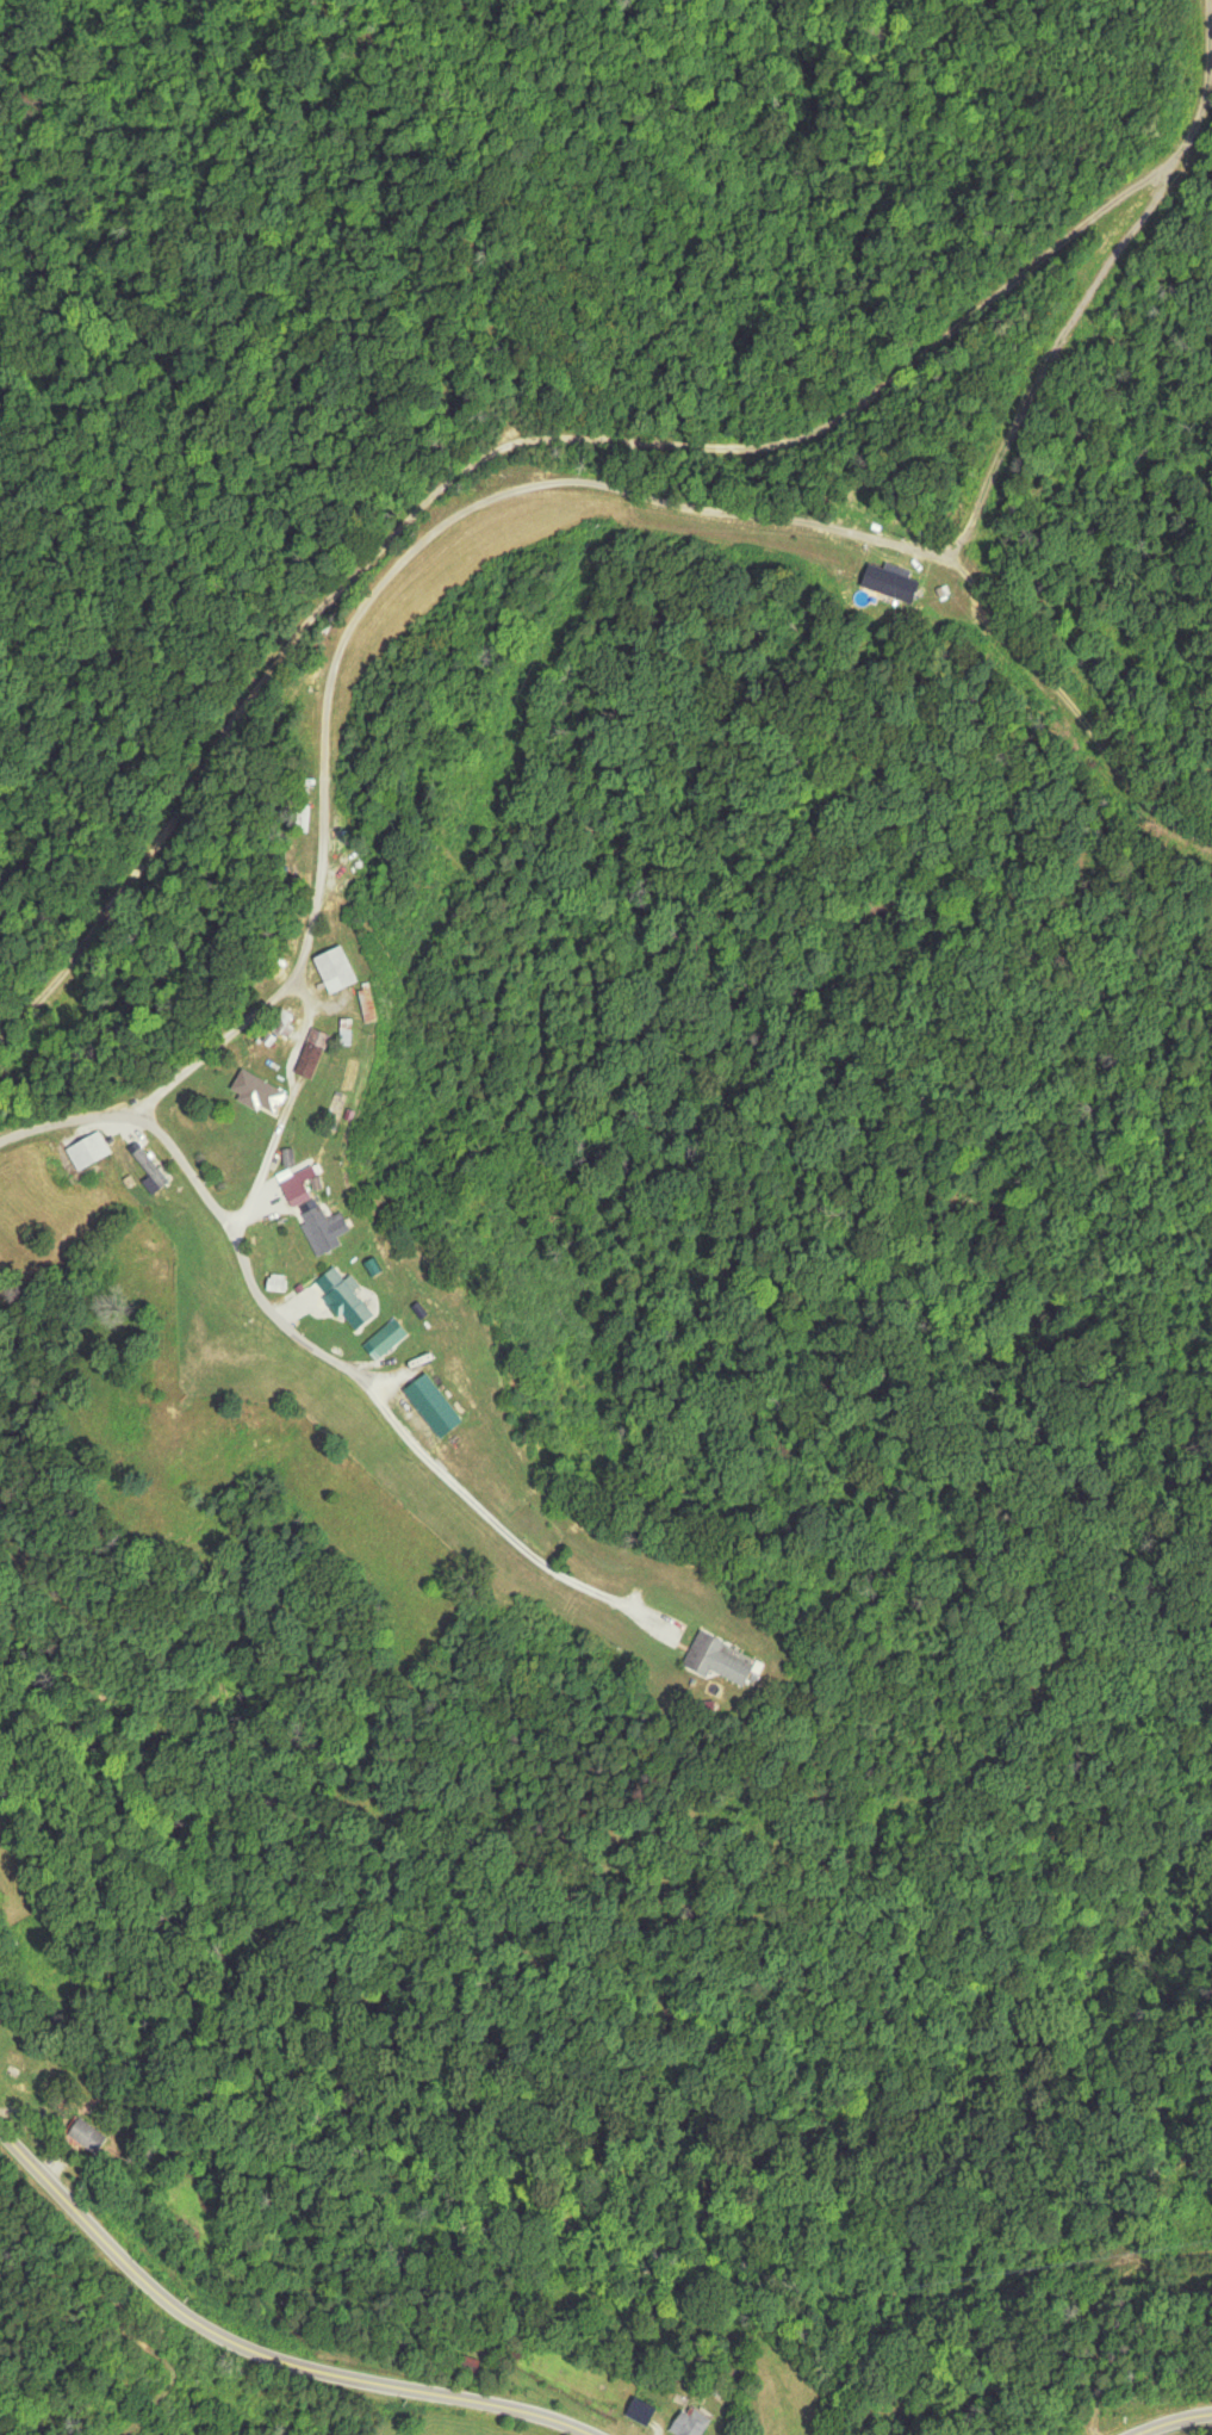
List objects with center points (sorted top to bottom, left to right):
road: (530, 441)
building: (485, 482)
building: (331, 968)
building: (365, 1005)
building: (311, 1053)
building: (255, 1091)
building: (95, 1152)
building: (155, 1164)
building: (297, 1188)
building: (323, 1228)
building: (343, 1297)
building: (387, 1337)
road: (309, 1344)
building: (429, 1405)
building: (714, 1660)
building: (87, 2135)
road: (251, 2354)
building: (468, 2363)
road: (1168, 2417)
building: (688, 2421)

